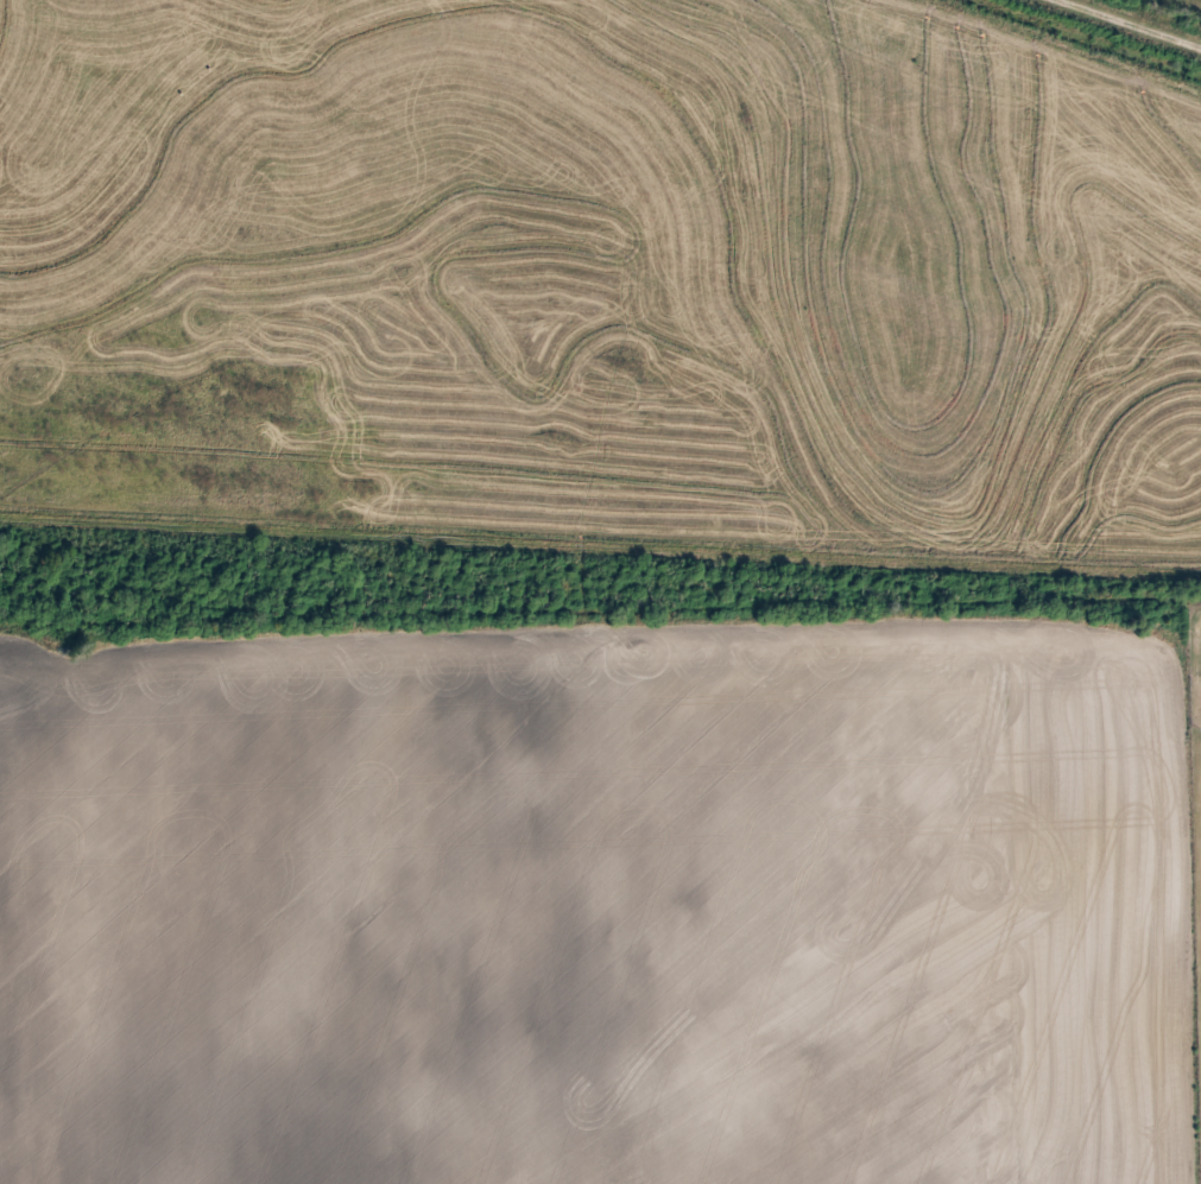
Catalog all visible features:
road: (600, 600)

